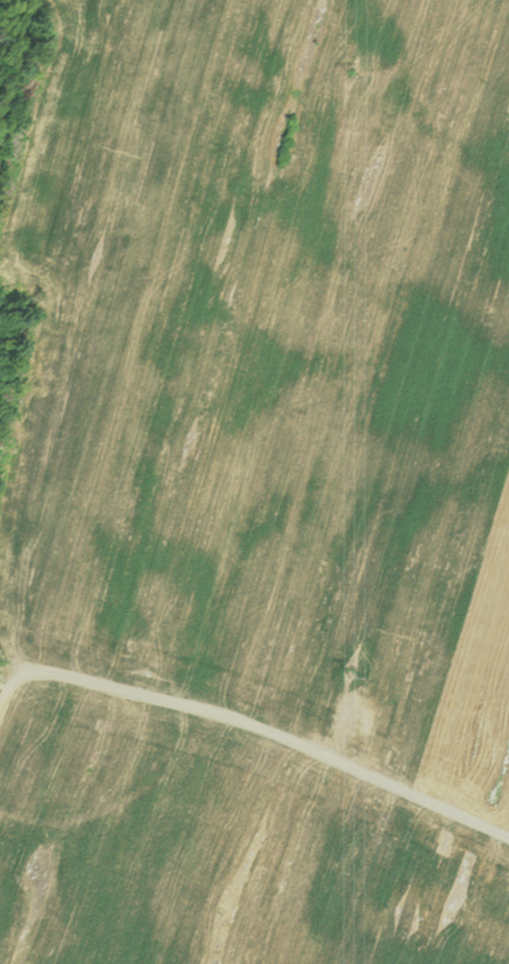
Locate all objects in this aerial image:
power tower: (353, 73)
power tower: (350, 671)

